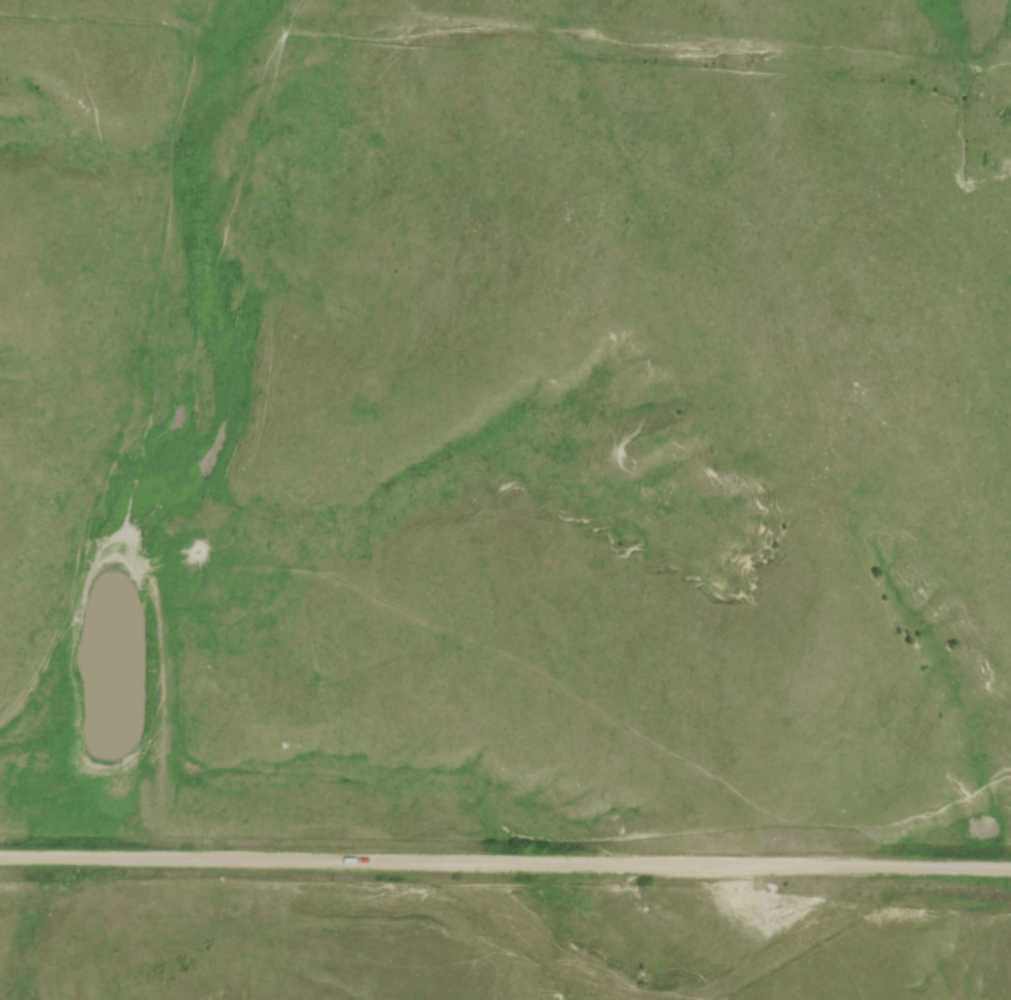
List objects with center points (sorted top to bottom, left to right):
road: (505, 863)

